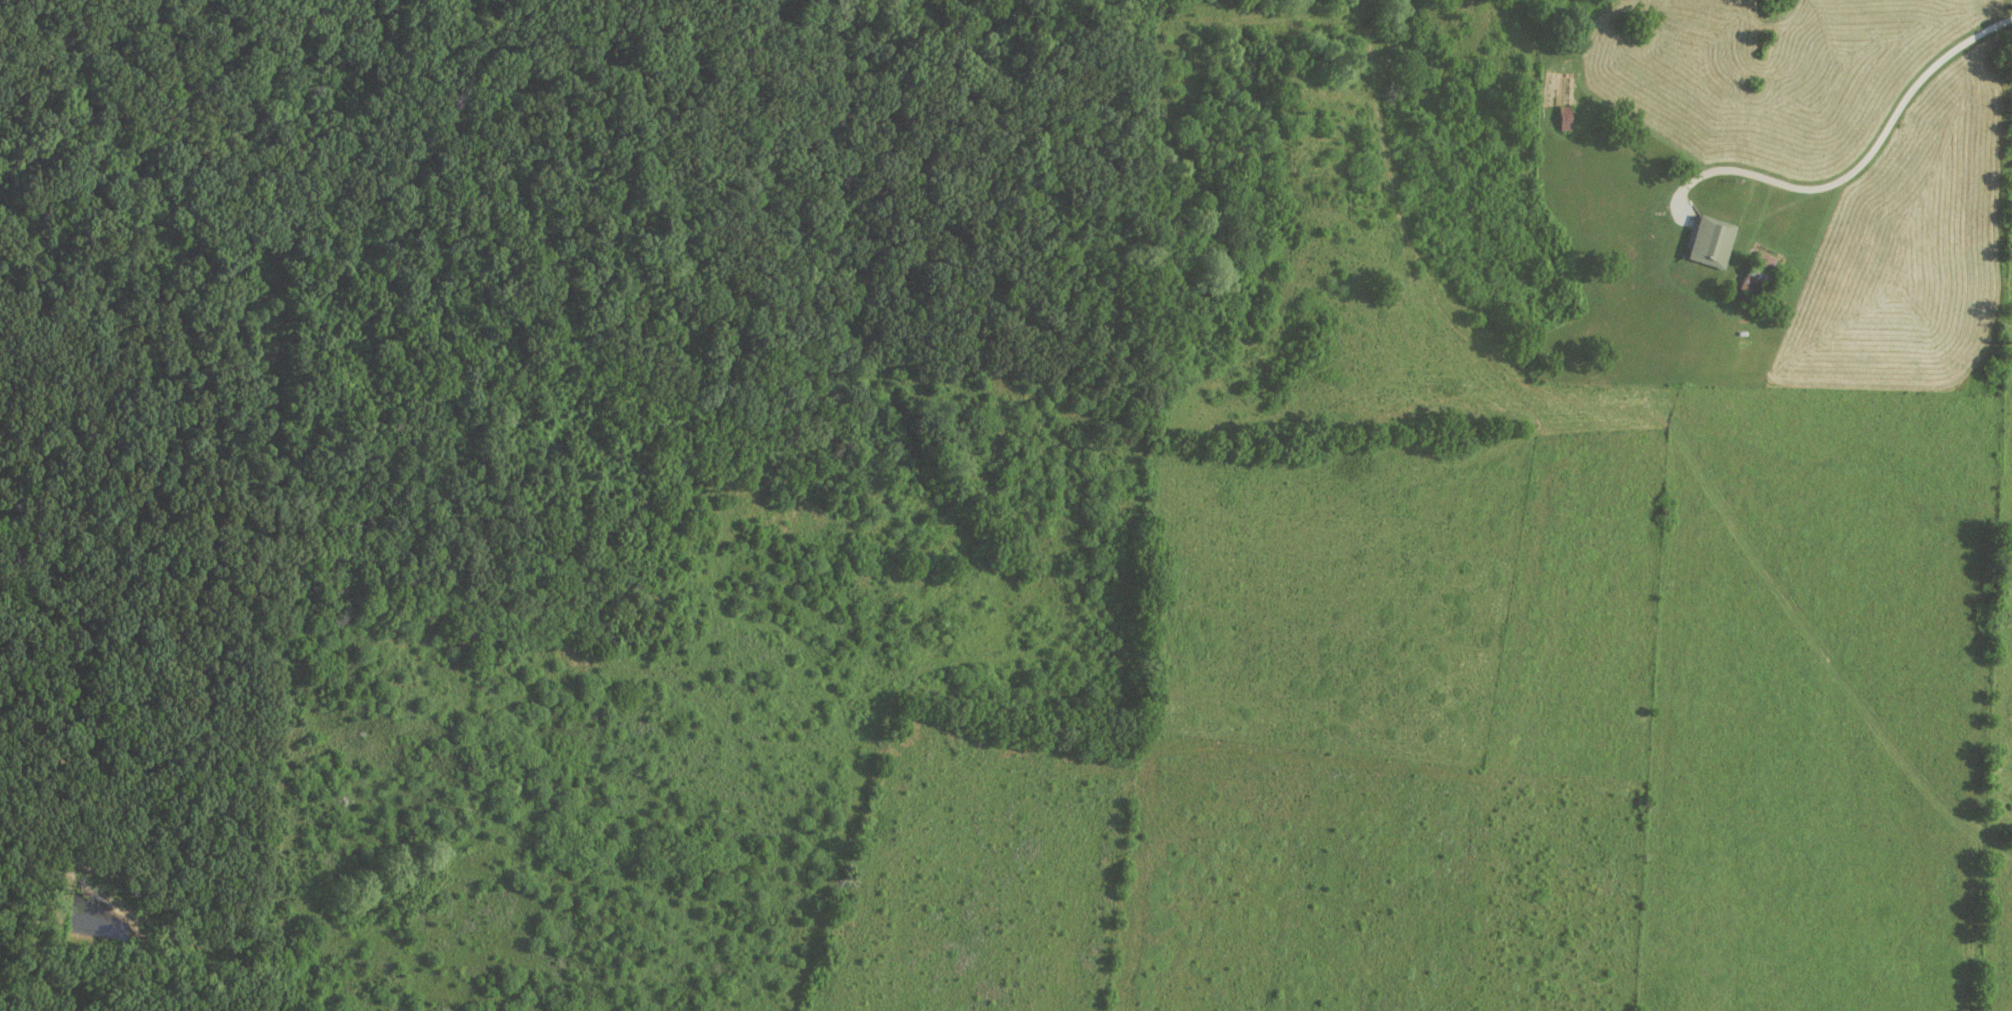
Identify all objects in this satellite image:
road: (1864, 162)
building: (1712, 243)
building: (1760, 273)

